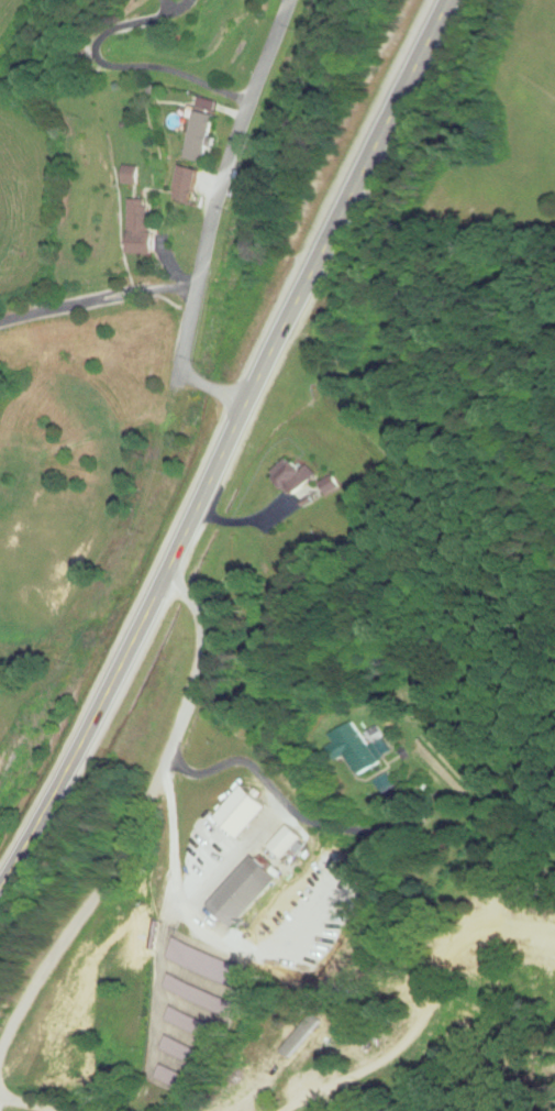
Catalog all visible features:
building: (198, 137)
building: (185, 186)
road: (214, 218)
building: (141, 230)
road: (98, 300)
road: (227, 444)
building: (298, 476)
building: (364, 749)
building: (247, 813)
road: (130, 827)
building: (290, 843)
building: (248, 892)
building: (208, 964)
building: (202, 997)
road: (423, 1022)
building: (197, 1025)
building: (186, 1053)
building: (175, 1078)
road: (25, 1105)

